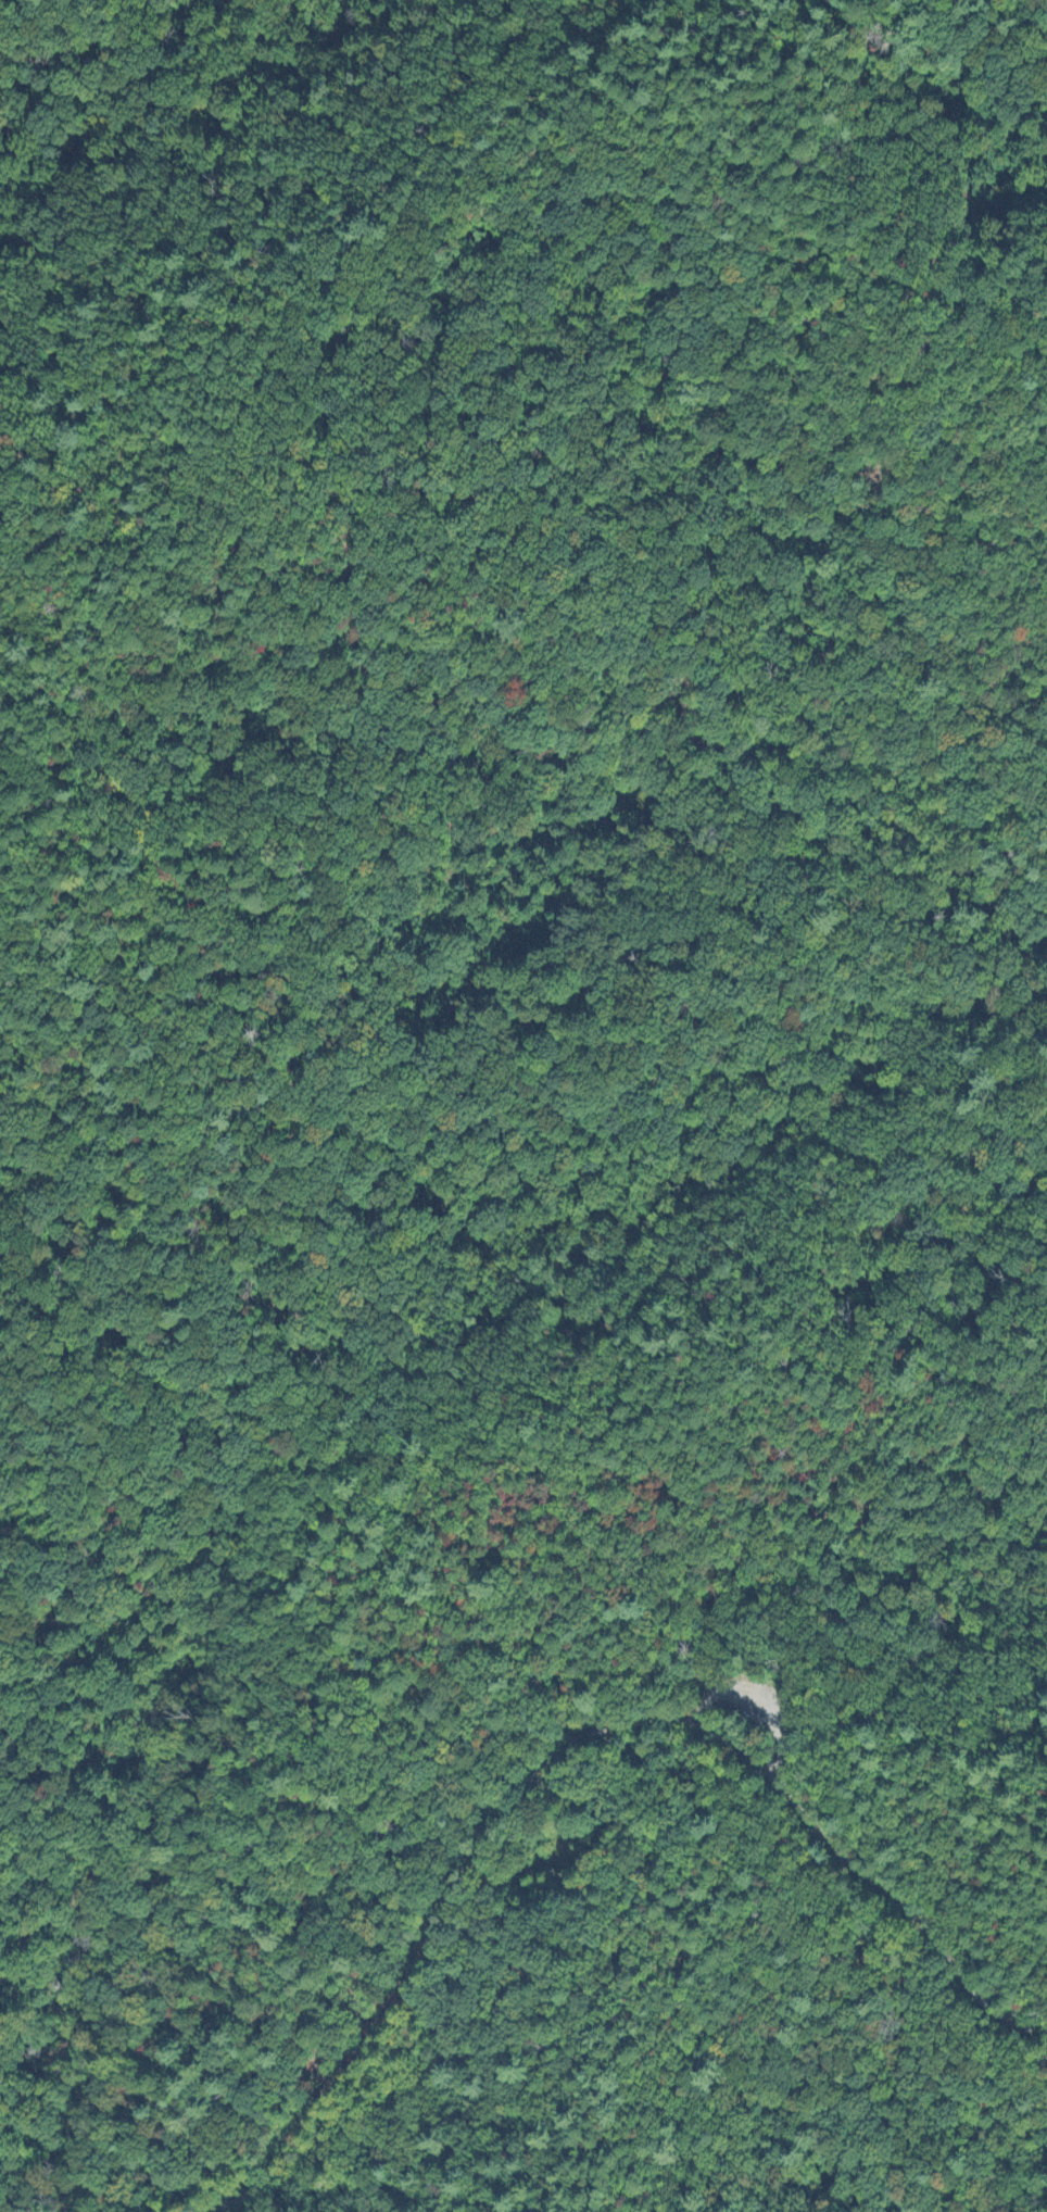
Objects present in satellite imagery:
road: (520, 521)
road: (260, 1307)
road: (136, 1576)
road: (432, 1606)
parking lot: (755, 1705)
road: (699, 1710)
road: (773, 1711)
road: (871, 1883)
road: (442, 1933)

